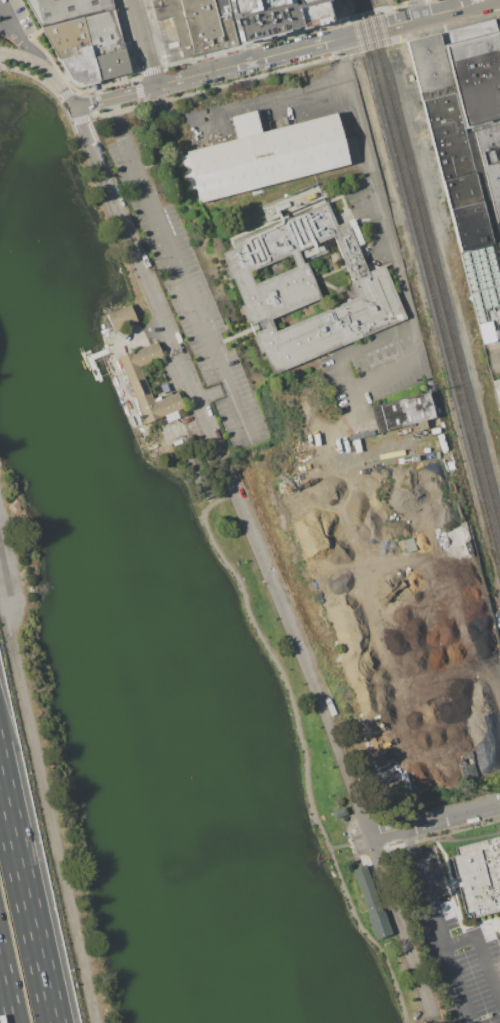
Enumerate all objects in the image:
parking lot: (399, 1)
road: (417, 8)
road: (453, 8)
building: (66, 9)
building: (275, 15)
building: (197, 24)
road: (6, 26)
building: (103, 32)
road: (17, 36)
railway: (383, 36)
building: (67, 37)
road: (142, 43)
road: (247, 60)
road: (21, 61)
building: (112, 65)
building: (81, 66)
building: (476, 76)
road: (60, 86)
road: (240, 107)
building: (266, 154)
building: (499, 223)
railway: (432, 265)
road: (180, 270)
railway: (428, 281)
building: (307, 289)
parking lot: (189, 297)
railway: (424, 298)
road: (405, 300)
building: (122, 317)
pier: (93, 361)
road: (497, 361)
building: (136, 380)
road: (212, 390)
building: (498, 395)
road: (355, 407)
building: (403, 412)
building: (195, 470)
road: (227, 470)
road: (476, 583)
park: (161, 658)
road: (302, 747)
road: (49, 799)
building: (338, 812)
road: (435, 820)
parking lot: (355, 836)
road: (339, 846)
building: (480, 875)
road: (425, 886)
road: (28, 897)
building: (371, 904)
road: (405, 930)
road: (483, 950)
road: (458, 984)
road: (4, 1000)

